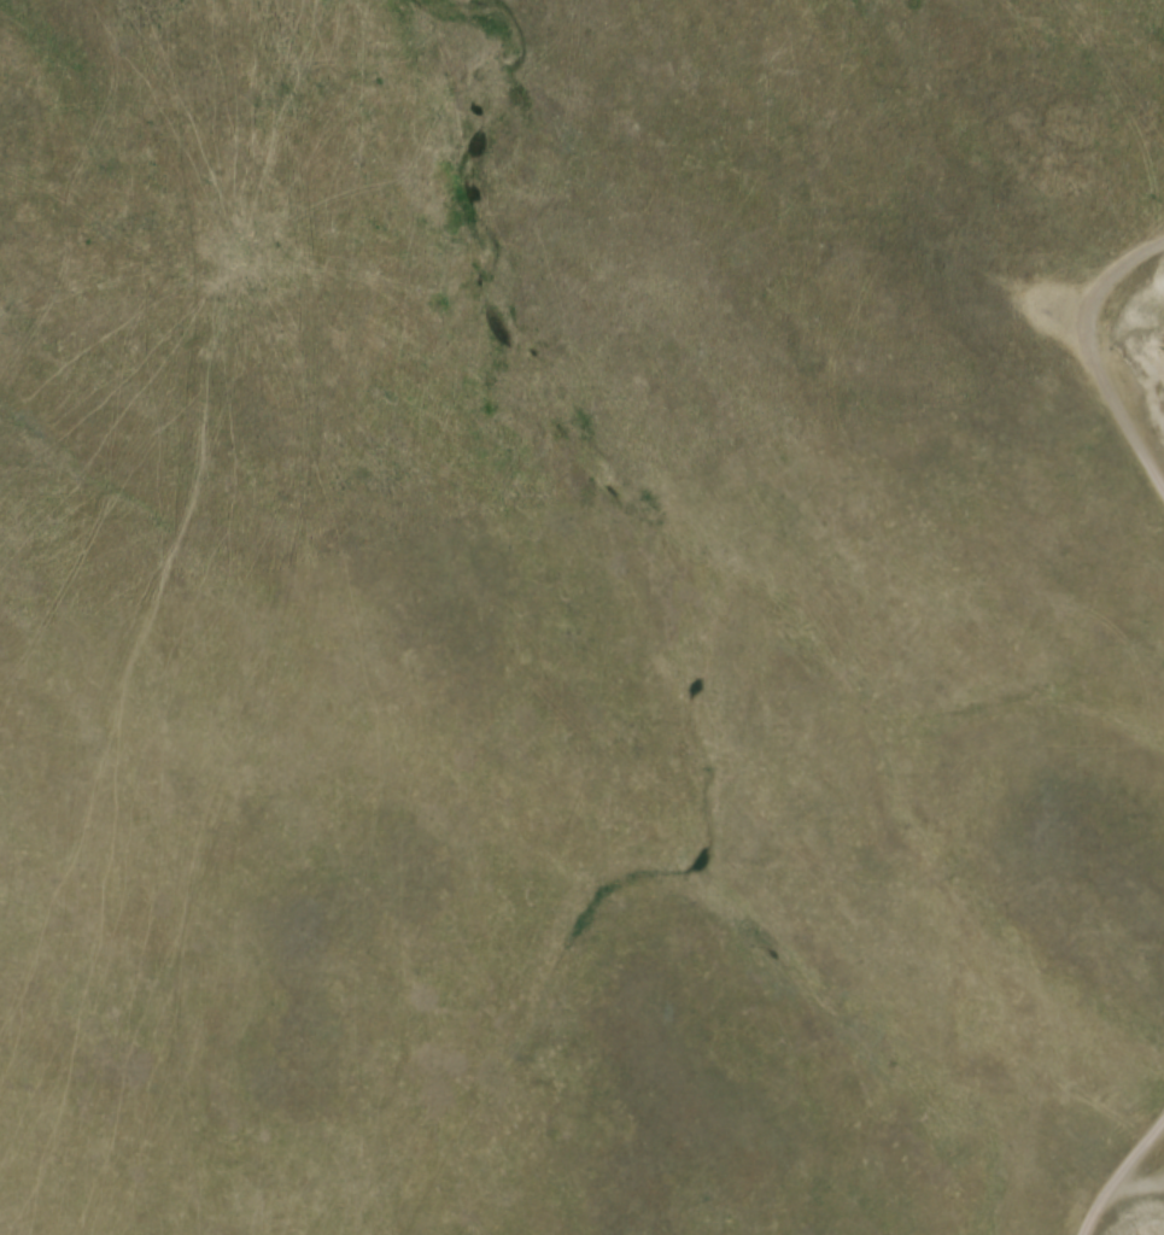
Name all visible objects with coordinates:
road: (1098, 355)
road: (1118, 1173)

